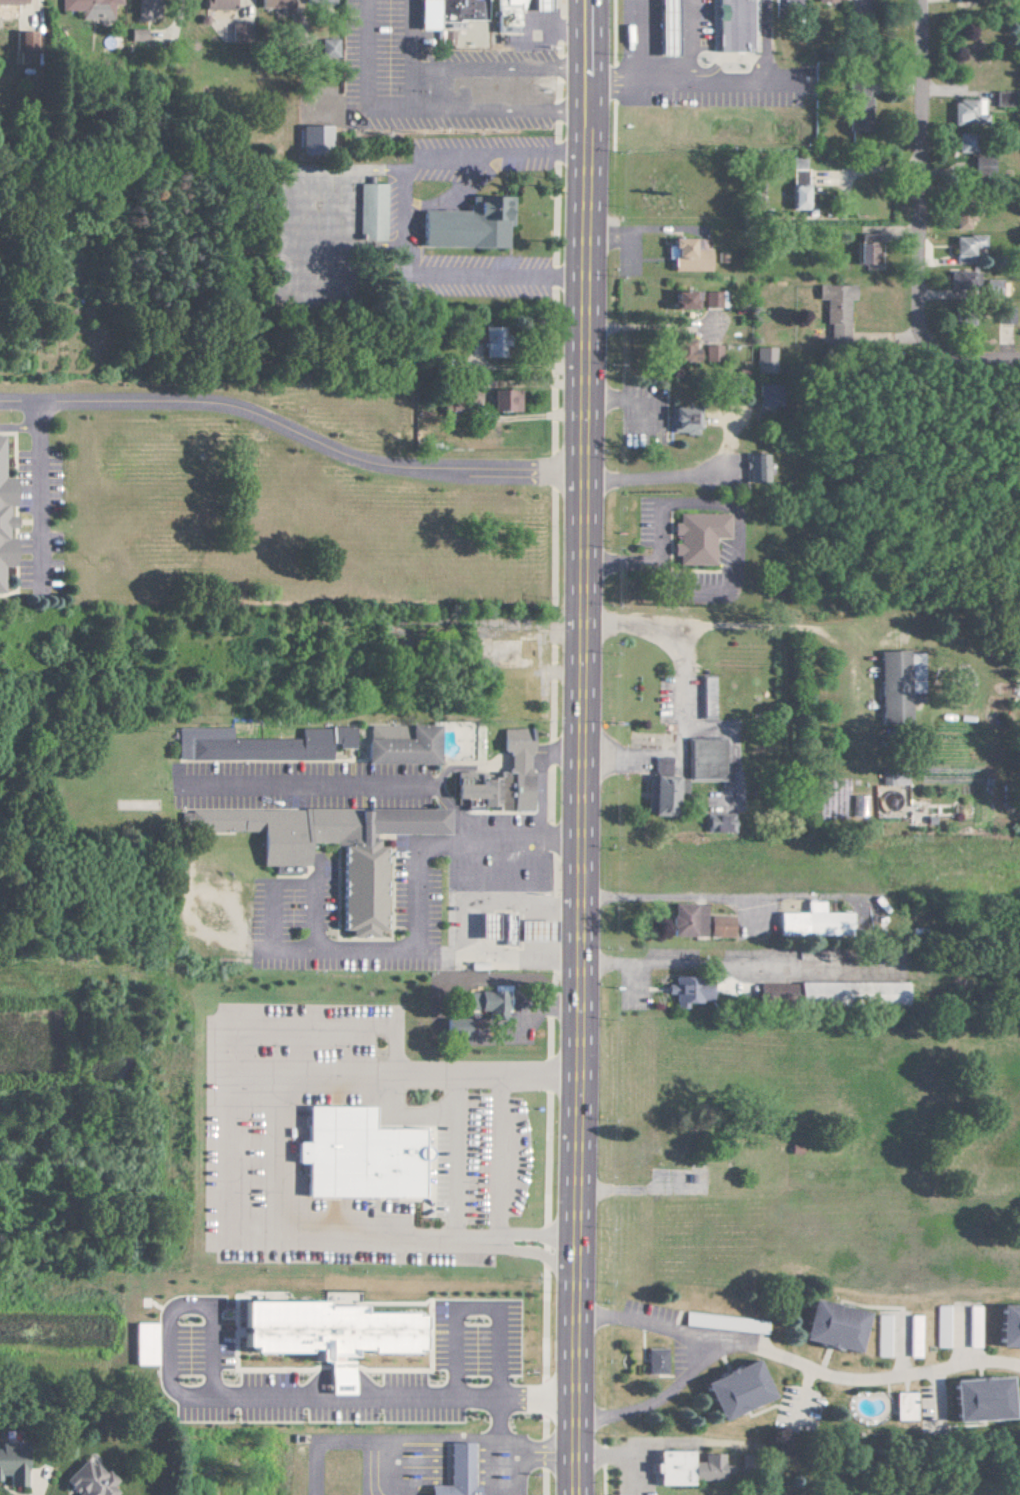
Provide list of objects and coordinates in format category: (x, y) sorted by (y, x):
building: (825, 0)
building: (316, 1)
building: (272, 3)
building: (216, 4)
building: (541, 4)
building: (88, 7)
building: (7, 9)
building: (142, 9)
building: (445, 15)
building: (506, 15)
building: (734, 27)
building: (667, 29)
building: (135, 34)
road: (631, 39)
building: (24, 40)
building: (326, 48)
road: (756, 72)
road: (673, 78)
road: (434, 86)
road: (578, 87)
road: (372, 93)
building: (1000, 99)
building: (856, 104)
building: (964, 112)
building: (311, 139)
building: (962, 143)
building: (980, 166)
road: (919, 174)
building: (796, 183)
building: (371, 210)
road: (401, 216)
building: (960, 220)
building: (469, 223)
building: (965, 247)
building: (865, 249)
building: (686, 256)
building: (961, 280)
building: (991, 288)
building: (710, 299)
building: (680, 300)
building: (834, 309)
building: (1004, 315)
road: (650, 326)
building: (491, 342)
building: (681, 351)
building: (711, 353)
building: (763, 360)
road: (970, 362)
building: (768, 395)
building: (494, 398)
road: (18, 400)
building: (508, 400)
road: (224, 402)
building: (681, 420)
road: (18, 427)
building: (757, 469)
road: (654, 477)
road: (725, 503)
building: (3, 521)
building: (696, 537)
road: (680, 677)
building: (894, 687)
building: (707, 698)
building: (258, 744)
building: (399, 745)
road: (580, 747)
road: (558, 754)
building: (705, 758)
road: (622, 759)
building: (661, 766)
building: (500, 778)
road: (341, 787)
building: (662, 796)
road: (539, 801)
building: (858, 806)
road: (453, 811)
building: (719, 823)
road: (724, 894)
building: (360, 898)
road: (416, 898)
building: (697, 922)
building: (813, 922)
building: (488, 926)
building: (508, 928)
building: (537, 930)
road: (272, 933)
road: (732, 963)
building: (686, 991)
building: (776, 993)
building: (488, 1002)
building: (453, 1026)
road: (231, 1054)
road: (505, 1154)
road: (459, 1155)
building: (355, 1156)
road: (502, 1237)
road: (483, 1306)
building: (726, 1323)
building: (942, 1326)
building: (832, 1327)
building: (973, 1327)
building: (1008, 1327)
building: (324, 1332)
building: (882, 1336)
building: (915, 1336)
building: (144, 1344)
road: (799, 1357)
building: (657, 1361)
building: (735, 1390)
road: (658, 1393)
building: (979, 1400)
road: (264, 1402)
building: (904, 1406)
road: (507, 1419)
road: (422, 1436)
road: (624, 1453)
building: (11, 1467)
building: (686, 1468)
road: (526, 1469)
building: (460, 1472)
building: (86, 1481)

